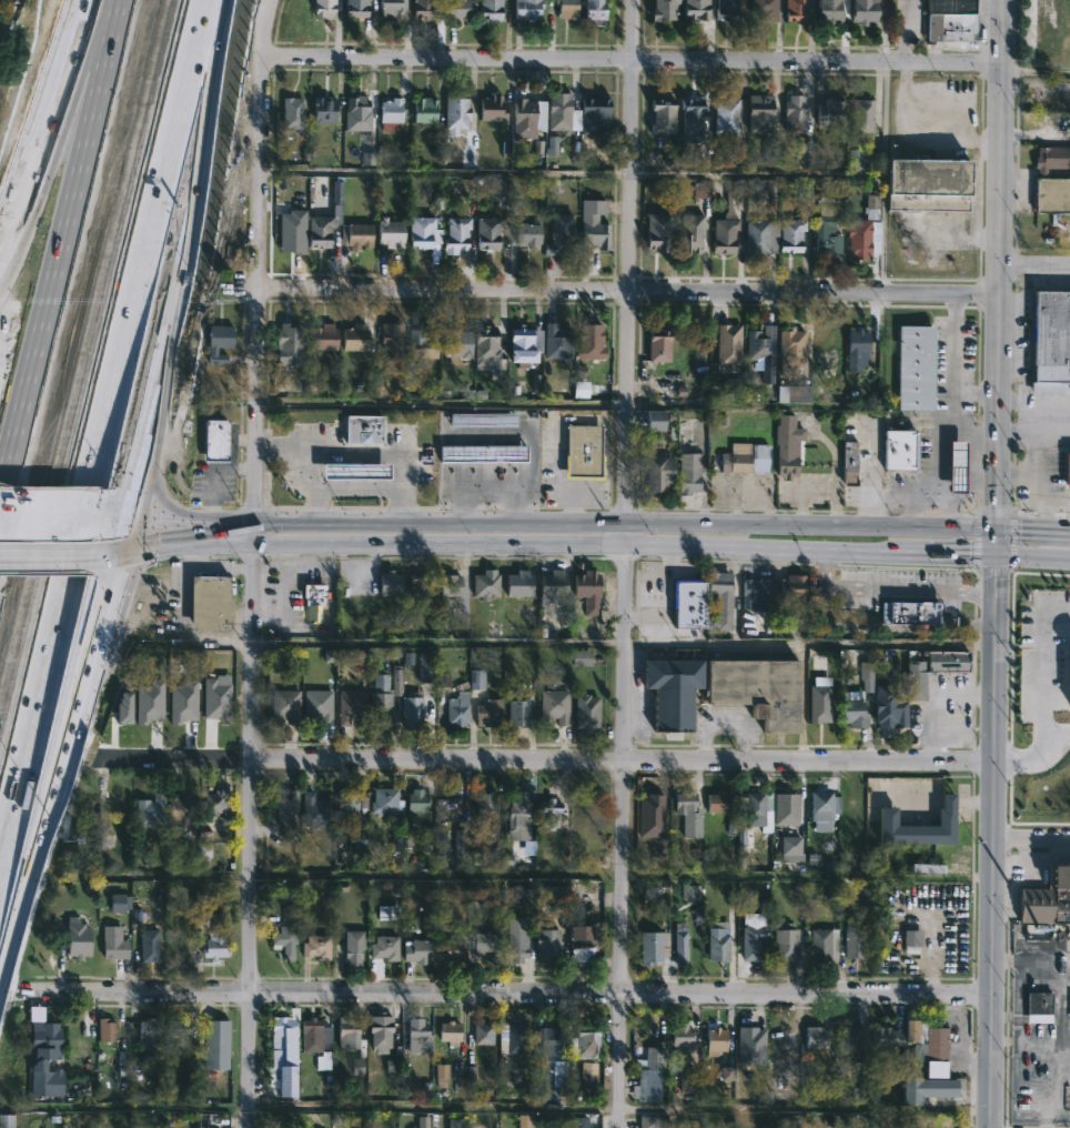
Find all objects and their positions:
building: (0, 0)
building: (323, 8)
building: (355, 8)
building: (392, 8)
building: (423, 9)
building: (460, 9)
building: (489, 9)
building: (527, 9)
building: (566, 9)
building: (696, 9)
building: (664, 10)
building: (727, 10)
building: (764, 10)
building: (796, 10)
building: (594, 11)
building: (829, 11)
building: (864, 11)
building: (951, 20)
road: (4, 40)
road: (632, 62)
road: (1036, 72)
building: (492, 109)
building: (323, 111)
building: (423, 111)
building: (831, 112)
building: (292, 113)
building: (390, 113)
building: (455, 113)
building: (563, 113)
building: (795, 113)
building: (356, 114)
building: (595, 114)
building: (759, 114)
road: (38, 115)
building: (726, 115)
building: (862, 115)
building: (528, 117)
building: (662, 117)
building: (694, 119)
road: (915, 141)
building: (770, 153)
building: (806, 154)
building: (367, 159)
building: (1052, 159)
building: (856, 160)
road: (446, 169)
building: (927, 182)
building: (501, 190)
building: (700, 190)
building: (804, 190)
building: (1052, 195)
building: (826, 207)
road: (53, 212)
building: (325, 221)
building: (727, 222)
building: (595, 223)
road: (152, 224)
building: (657, 231)
building: (690, 232)
building: (390, 233)
building: (423, 233)
building: (456, 233)
building: (487, 233)
building: (357, 235)
building: (527, 235)
building: (559, 235)
building: (794, 235)
building: (757, 236)
building: (827, 236)
building: (858, 239)
road: (1034, 266)
road: (184, 273)
road: (629, 291)
building: (321, 338)
building: (355, 339)
building: (424, 342)
building: (556, 342)
building: (218, 343)
building: (589, 343)
building: (1051, 343)
building: (457, 344)
building: (760, 344)
building: (289, 345)
building: (728, 345)
building: (791, 345)
building: (392, 346)
building: (523, 346)
building: (658, 346)
building: (485, 348)
building: (858, 350)
road: (98, 362)
building: (915, 369)
road: (975, 392)
building: (793, 393)
road: (948, 416)
building: (482, 420)
building: (654, 421)
road: (969, 426)
building: (361, 427)
road: (1020, 429)
building: (214, 441)
road: (1043, 445)
building: (787, 446)
building: (898, 449)
building: (481, 452)
building: (581, 452)
road: (362, 453)
building: (747, 460)
building: (849, 463)
road: (969, 463)
building: (953, 465)
gas station: (953, 465)
building: (352, 470)
gas station: (352, 470)
building: (1069, 471)
building: (690, 473)
road: (1020, 473)
building: (662, 474)
road: (311, 486)
road: (354, 490)
road: (161, 498)
road: (948, 500)
road: (992, 512)
road: (51, 516)
traffic signals: (135, 516)
road: (548, 520)
road: (74, 526)
traffic signals: (995, 530)
road: (1032, 531)
road: (1010, 541)
road: (975, 542)
road: (47, 546)
traffic signals: (134, 546)
road: (190, 546)
road: (593, 547)
road: (947, 555)
road: (322, 557)
traffic signals: (993, 557)
road: (1031, 557)
road: (258, 563)
road: (623, 563)
road: (993, 563)
road: (226, 566)
road: (290, 566)
road: (991, 571)
building: (388, 583)
building: (518, 583)
building: (450, 584)
building: (485, 584)
building: (552, 585)
building: (418, 586)
building: (793, 586)
building: (587, 588)
road: (890, 590)
road: (285, 595)
building: (758, 595)
road: (180, 600)
building: (720, 600)
building: (208, 603)
building: (312, 603)
building: (689, 603)
building: (908, 610)
road: (887, 628)
road: (624, 645)
building: (932, 666)
building: (1068, 674)
road: (1041, 675)
building: (757, 687)
building: (670, 688)
building: (380, 691)
road: (929, 694)
building: (452, 702)
building: (284, 704)
building: (317, 705)
building: (351, 705)
building: (554, 705)
building: (886, 707)
building: (412, 708)
building: (220, 711)
building: (487, 712)
building: (518, 712)
building: (586, 712)
building: (854, 712)
building: (183, 715)
building: (152, 721)
road: (28, 724)
road: (62, 754)
road: (1034, 756)
road: (548, 758)
building: (383, 800)
building: (415, 800)
building: (215, 802)
building: (718, 802)
road: (911, 802)
building: (117, 803)
road: (946, 803)
road: (972, 804)
building: (452, 805)
building: (485, 805)
building: (346, 806)
building: (181, 807)
building: (755, 807)
building: (786, 808)
building: (824, 808)
building: (315, 809)
building: (517, 809)
building: (150, 812)
building: (287, 812)
building: (548, 813)
building: (688, 813)
building: (917, 826)
building: (585, 836)
road: (1031, 840)
building: (927, 868)
road: (620, 875)
building: (690, 893)
building: (552, 896)
building: (1048, 898)
building: (285, 930)
building: (77, 938)
building: (719, 940)
building: (911, 940)
building: (753, 941)
building: (785, 941)
building: (856, 941)
building: (113, 943)
building: (485, 943)
building: (826, 944)
building: (214, 945)
building: (516, 945)
building: (546, 945)
building: (315, 946)
building: (347, 946)
building: (680, 946)
building: (384, 947)
building: (581, 947)
building: (654, 947)
building: (148, 948)
building: (417, 950)
building: (448, 951)
road: (548, 990)
building: (1037, 1007)
road: (1060, 1019)
building: (104, 1029)
building: (346, 1029)
building: (179, 1030)
building: (216, 1030)
building: (151, 1031)
building: (450, 1031)
building: (483, 1033)
building: (380, 1035)
building: (683, 1035)
building: (416, 1036)
building: (887, 1036)
building: (815, 1037)
building: (516, 1038)
building: (750, 1038)
building: (316, 1039)
building: (549, 1039)
building: (715, 1039)
building: (850, 1040)
building: (586, 1045)
building: (936, 1048)
building: (283, 1054)
building: (43, 1058)
building: (648, 1075)
building: (579, 1078)
building: (542, 1087)
building: (928, 1088)
road: (506, 1107)
building: (6, 1121)
building: (424, 1121)
building: (789, 1121)
building: (455, 1122)
building: (647, 1122)
building: (909, 1125)

